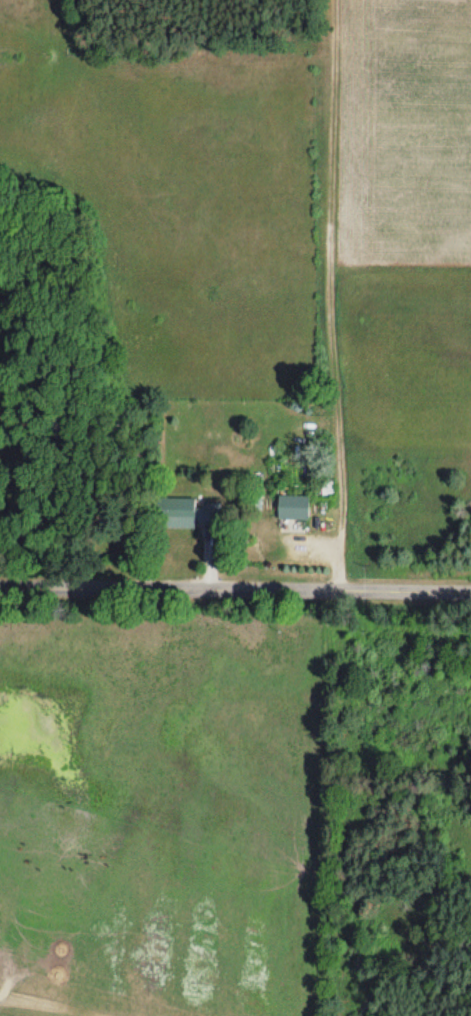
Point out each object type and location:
building: (293, 507)
building: (177, 512)
road: (235, 596)

